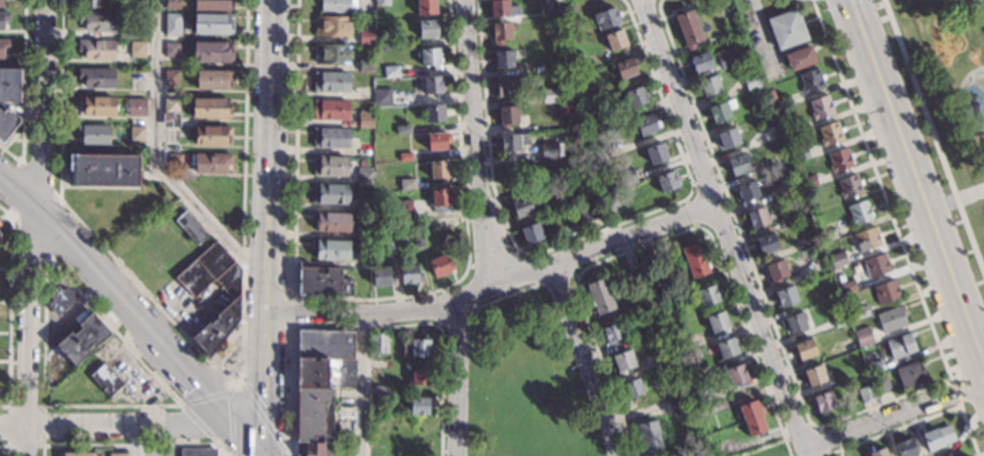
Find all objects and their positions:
building: (381, 2)
building: (0, 4)
building: (87, 4)
building: (171, 4)
building: (211, 4)
building: (337, 6)
building: (426, 7)
building: (502, 8)
building: (546, 10)
building: (371, 12)
building: (566, 12)
building: (3, 17)
building: (607, 17)
building: (95, 22)
building: (170, 24)
building: (211, 24)
building: (332, 26)
building: (428, 28)
building: (688, 29)
building: (787, 29)
building: (501, 33)
building: (126, 35)
building: (366, 37)
building: (566, 40)
building: (615, 41)
building: (389, 43)
building: (2, 45)
building: (135, 49)
building: (95, 50)
building: (170, 50)
building: (210, 51)
building: (332, 54)
building: (429, 57)
building: (726, 58)
building: (800, 58)
building: (502, 59)
building: (699, 62)
building: (365, 65)
building: (626, 67)
building: (391, 71)
road: (23, 78)
building: (95, 78)
building: (170, 78)
building: (135, 80)
building: (212, 80)
building: (752, 81)
building: (811, 81)
building: (331, 82)
building: (9, 85)
building: (432, 86)
building: (506, 87)
building: (709, 87)
building: (549, 94)
building: (586, 94)
building: (636, 96)
building: (383, 97)
building: (784, 101)
building: (169, 105)
building: (96, 106)
building: (136, 106)
building: (820, 107)
building: (209, 108)
building: (565, 108)
building: (331, 110)
building: (721, 110)
building: (434, 113)
building: (508, 116)
building: (365, 120)
building: (6, 122)
building: (647, 124)
building: (592, 125)
building: (791, 128)
building: (402, 129)
building: (830, 133)
building: (92, 134)
building: (134, 134)
building: (169, 134)
building: (210, 136)
building: (330, 137)
building: (727, 139)
building: (437, 141)
road: (476, 141)
building: (511, 142)
building: (364, 150)
building: (549, 150)
building: (600, 153)
building: (656, 154)
building: (801, 154)
road: (10, 155)
road: (155, 157)
building: (404, 157)
road: (21, 159)
building: (172, 159)
building: (839, 160)
building: (780, 161)
building: (209, 163)
building: (583, 165)
building: (737, 165)
building: (330, 166)
building: (439, 170)
building: (101, 171)
building: (512, 171)
building: (364, 172)
building: (627, 177)
road: (37, 178)
building: (666, 182)
building: (808, 182)
road: (914, 182)
building: (406, 184)
road: (15, 185)
building: (789, 186)
building: (849, 186)
building: (747, 190)
building: (330, 194)
road: (243, 197)
road: (56, 198)
building: (439, 199)
building: (609, 200)
road: (954, 200)
building: (564, 202)
building: (364, 205)
building: (526, 205)
building: (404, 209)
road: (9, 211)
building: (589, 212)
building: (859, 212)
road: (8, 213)
building: (799, 213)
building: (757, 217)
road: (77, 219)
building: (331, 222)
road: (49, 225)
building: (415, 226)
road: (31, 227)
building: (189, 227)
road: (266, 228)
road: (722, 228)
building: (362, 233)
building: (531, 234)
building: (828, 235)
building: (0, 236)
road: (30, 238)
building: (866, 239)
building: (0, 240)
building: (418, 240)
building: (809, 241)
building: (390, 243)
building: (765, 244)
building: (332, 250)
road: (584, 252)
building: (650, 257)
building: (694, 259)
building: (837, 259)
building: (633, 265)
building: (876, 265)
building: (440, 266)
building: (776, 270)
building: (410, 273)
building: (382, 277)
building: (323, 282)
building: (847, 286)
building: (886, 291)
building: (709, 295)
road: (116, 296)
building: (786, 296)
building: (599, 297)
building: (235, 299)
building: (59, 300)
road: (361, 312)
building: (859, 312)
road: (9, 314)
building: (892, 318)
building: (839, 320)
building: (673, 321)
building: (717, 322)
building: (794, 322)
road: (112, 330)
road: (44, 331)
building: (656, 331)
building: (613, 334)
building: (863, 337)
building: (80, 339)
building: (378, 343)
building: (682, 345)
building: (900, 345)
building: (415, 347)
building: (727, 347)
building: (804, 349)
building: (665, 355)
building: (325, 359)
road: (584, 360)
building: (623, 362)
building: (379, 363)
building: (874, 366)
building: (691, 373)
building: (911, 374)
building: (737, 375)
building: (813, 375)
building: (419, 377)
road: (456, 379)
building: (105, 381)
park: (524, 381)
road: (362, 384)
traffic signals: (196, 385)
building: (881, 385)
building: (632, 389)
building: (379, 391)
building: (866, 394)
road: (204, 395)
building: (699, 398)
building: (824, 402)
building: (676, 403)
road: (111, 405)
traffic signals: (263, 405)
building: (420, 405)
road: (893, 414)
building: (314, 415)
building: (752, 416)
road: (263, 419)
road: (230, 421)
road: (198, 424)
road: (127, 425)
road: (12, 426)
road: (798, 431)
building: (938, 436)
road: (245, 438)
building: (649, 438)
road: (134, 440)
road: (132, 445)
road: (42, 446)
road: (6, 447)
building: (906, 447)
road: (760, 448)
building: (316, 449)
building: (878, 451)
building: (197, 452)
building: (79, 453)
building: (116, 454)
building: (296, 455)

